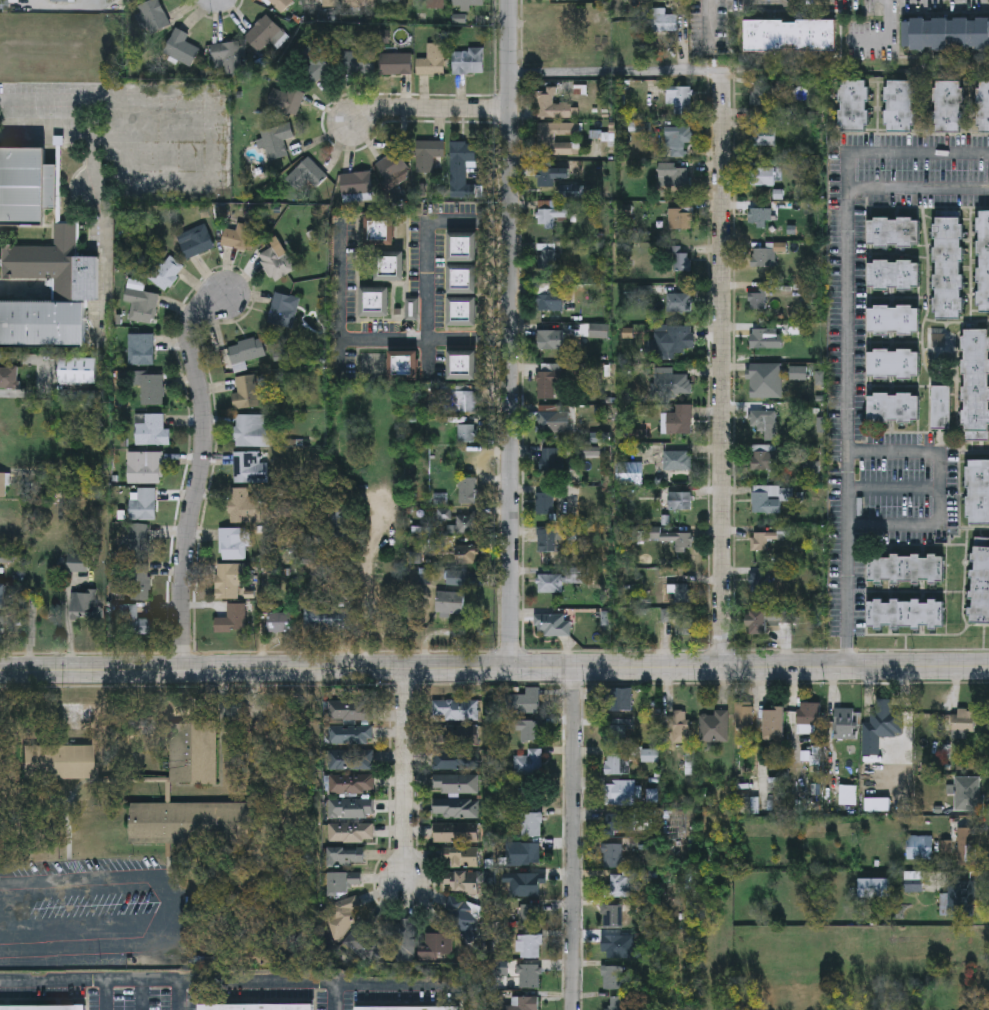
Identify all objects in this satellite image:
building: (59, 0)
building: (395, 0)
building: (560, 0)
building: (9, 3)
building: (330, 3)
building: (468, 3)
building: (359, 4)
building: (432, 4)
building: (282, 5)
building: (154, 15)
building: (664, 20)
building: (946, 33)
building: (264, 34)
building: (790, 35)
road: (886, 38)
building: (548, 42)
building: (181, 48)
building: (229, 56)
building: (432, 60)
building: (468, 60)
building: (359, 62)
building: (396, 64)
building: (317, 66)
road: (615, 72)
building: (680, 98)
building: (286, 99)
building: (550, 104)
building: (854, 104)
building: (901, 105)
building: (949, 105)
building: (984, 106)
road: (430, 108)
building: (763, 135)
road: (68, 137)
road: (150, 138)
building: (678, 139)
building: (275, 140)
building: (551, 141)
road: (898, 153)
building: (429, 154)
road: (214, 159)
building: (461, 160)
building: (394, 167)
building: (546, 172)
building: (306, 174)
building: (675, 174)
building: (762, 176)
building: (356, 186)
building: (27, 187)
road: (917, 189)
building: (548, 214)
building: (761, 216)
building: (680, 219)
building: (380, 232)
building: (894, 232)
building: (239, 237)
road: (425, 238)
building: (196, 241)
building: (463, 248)
building: (763, 257)
building: (547, 259)
building: (681, 260)
building: (983, 261)
building: (276, 263)
building: (948, 263)
building: (390, 266)
building: (166, 272)
building: (894, 274)
building: (463, 280)
building: (75, 292)
building: (550, 300)
building: (679, 302)
building: (375, 303)
building: (141, 306)
building: (412, 309)
building: (283, 310)
building: (463, 313)
building: (894, 319)
road: (509, 334)
road: (370, 338)
building: (761, 338)
building: (550, 340)
building: (679, 342)
building: (141, 350)
building: (245, 352)
road: (427, 356)
building: (403, 364)
building: (894, 364)
building: (462, 365)
road: (722, 369)
building: (78, 370)
building: (798, 373)
building: (9, 376)
building: (548, 383)
building: (762, 384)
building: (975, 384)
building: (671, 386)
building: (152, 390)
building: (246, 392)
building: (465, 399)
building: (894, 407)
building: (940, 407)
building: (763, 418)
building: (549, 419)
building: (679, 420)
road: (846, 428)
building: (152, 430)
building: (252, 430)
building: (467, 433)
building: (764, 457)
building: (677, 460)
building: (551, 461)
building: (144, 466)
building: (249, 467)
road: (199, 470)
building: (629, 473)
building: (4, 484)
road: (940, 487)
road: (893, 490)
building: (467, 491)
building: (978, 491)
building: (769, 497)
building: (680, 500)
building: (544, 503)
building: (144, 504)
building: (245, 505)
building: (341, 522)
building: (467, 524)
building: (672, 536)
building: (140, 537)
building: (767, 538)
building: (548, 540)
building: (234, 542)
building: (465, 554)
building: (6, 557)
building: (907, 567)
building: (456, 577)
building: (229, 579)
building: (139, 580)
building: (980, 580)
building: (759, 581)
building: (550, 583)
building: (680, 592)
building: (2, 596)
building: (83, 602)
building: (449, 602)
road: (366, 613)
building: (906, 614)
building: (782, 616)
building: (232, 618)
building: (818, 618)
building: (133, 619)
building: (328, 619)
building: (280, 622)
building: (550, 622)
building: (758, 622)
building: (1, 629)
road: (494, 669)
building: (614, 700)
building: (526, 702)
building: (456, 712)
building: (350, 713)
building: (744, 715)
building: (809, 718)
building: (964, 721)
building: (883, 722)
building: (847, 725)
building: (774, 726)
building: (713, 728)
building: (530, 732)
building: (616, 734)
building: (682, 734)
building: (350, 737)
building: (193, 754)
building: (351, 760)
building: (449, 760)
building: (59, 762)
building: (528, 764)
building: (617, 765)
road: (404, 778)
building: (455, 785)
building: (351, 786)
building: (619, 794)
building: (848, 794)
building: (529, 795)
building: (455, 810)
building: (190, 821)
building: (351, 823)
building: (619, 825)
building: (529, 826)
building: (455, 834)
road: (573, 839)
building: (966, 846)
building: (919, 849)
building: (524, 855)
building: (612, 857)
building: (345, 860)
building: (456, 860)
building: (343, 881)
building: (914, 882)
building: (460, 884)
building: (531, 887)
building: (620, 887)
building: (874, 889)
building: (961, 899)
road: (174, 912)
building: (342, 915)
building: (462, 917)
building: (530, 917)
building: (613, 918)
building: (364, 941)
building: (405, 941)
building: (436, 948)
building: (529, 948)
building: (616, 949)
building: (528, 977)
road: (182, 978)
building: (613, 979)
road: (392, 989)
road: (103, 994)
road: (180, 994)
building: (524, 1004)
building: (618, 1004)
building: (42, 1007)
building: (256, 1007)
building: (408, 1008)

